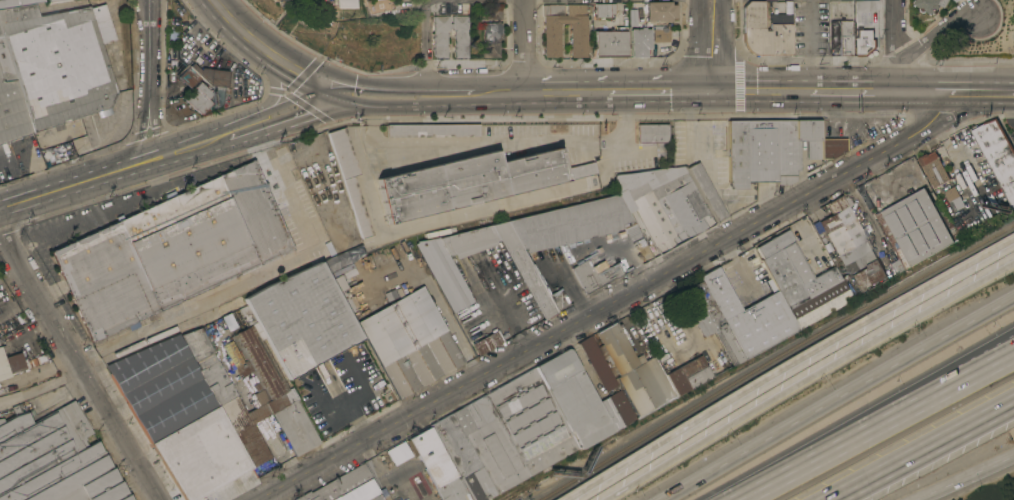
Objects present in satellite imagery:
building: (51, 0)
building: (284, 0)
building: (344, 3)
building: (929, 5)
building: (604, 9)
building: (659, 10)
building: (495, 12)
building: (632, 17)
building: (310, 19)
building: (577, 30)
building: (764, 31)
road: (933, 33)
building: (661, 35)
building: (461, 36)
building: (845, 37)
building: (491, 38)
building: (639, 41)
building: (864, 42)
building: (610, 43)
road: (892, 44)
road: (809, 45)
road: (696, 46)
road: (526, 47)
road: (719, 47)
road: (427, 48)
road: (267, 52)
building: (59, 60)
building: (195, 72)
road: (996, 78)
road: (147, 80)
road: (965, 87)
road: (997, 87)
traffic signals: (335, 88)
road: (381, 88)
road: (922, 88)
road: (851, 89)
road: (757, 91)
road: (615, 93)
road: (499, 95)
road: (449, 96)
building: (198, 97)
building: (10, 102)
road: (379, 102)
road: (281, 116)
building: (433, 129)
building: (652, 132)
building: (831, 147)
building: (769, 149)
building: (997, 153)
building: (974, 154)
building: (934, 168)
road: (111, 171)
building: (349, 176)
road: (368, 179)
building: (471, 181)
building: (706, 191)
building: (954, 198)
building: (663, 203)
building: (573, 223)
building: (920, 224)
building: (849, 247)
building: (175, 253)
railway: (352, 258)
building: (894, 260)
building: (444, 273)
building: (593, 274)
building: (801, 280)
building: (349, 299)
road: (614, 303)
road: (510, 309)
building: (750, 311)
building: (246, 315)
building: (710, 319)
building: (409, 341)
building: (487, 342)
building: (156, 344)
railway: (775, 360)
building: (10, 363)
road: (977, 364)
road: (785, 365)
road: (79, 367)
building: (635, 370)
building: (695, 371)
road: (808, 377)
building: (677, 380)
building: (607, 385)
building: (271, 389)
railway: (31, 394)
road: (835, 396)
building: (226, 397)
building: (574, 397)
building: (181, 419)
road: (356, 420)
road: (875, 425)
building: (503, 435)
road: (921, 451)
building: (398, 452)
building: (54, 459)
building: (437, 465)
road: (961, 476)
building: (348, 487)

